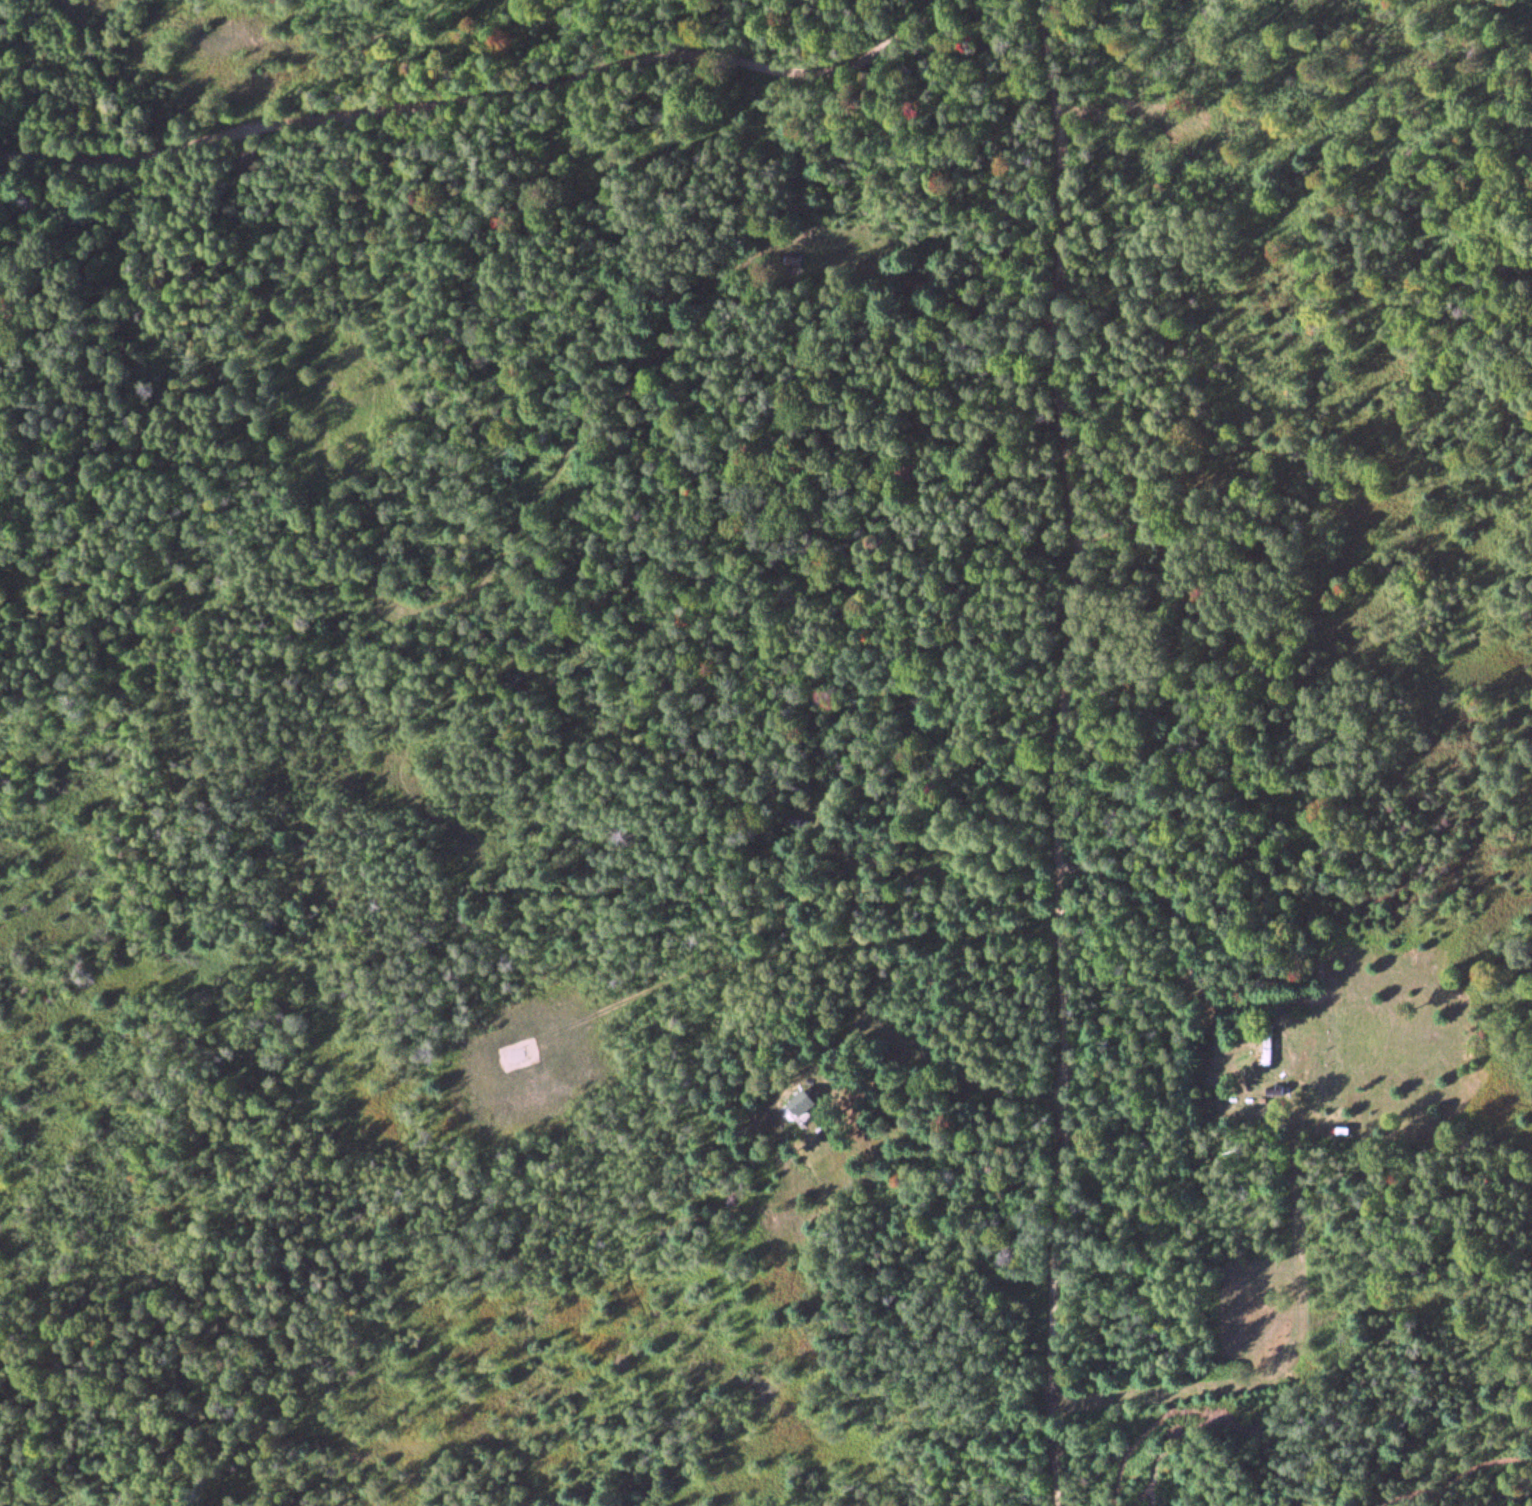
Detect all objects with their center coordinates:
road: (488, 95)
building: (1194, 133)
road: (1063, 751)
road: (1187, 945)
road: (726, 965)
petroleum well: (519, 1054)
building: (808, 1107)
road: (1285, 1373)

